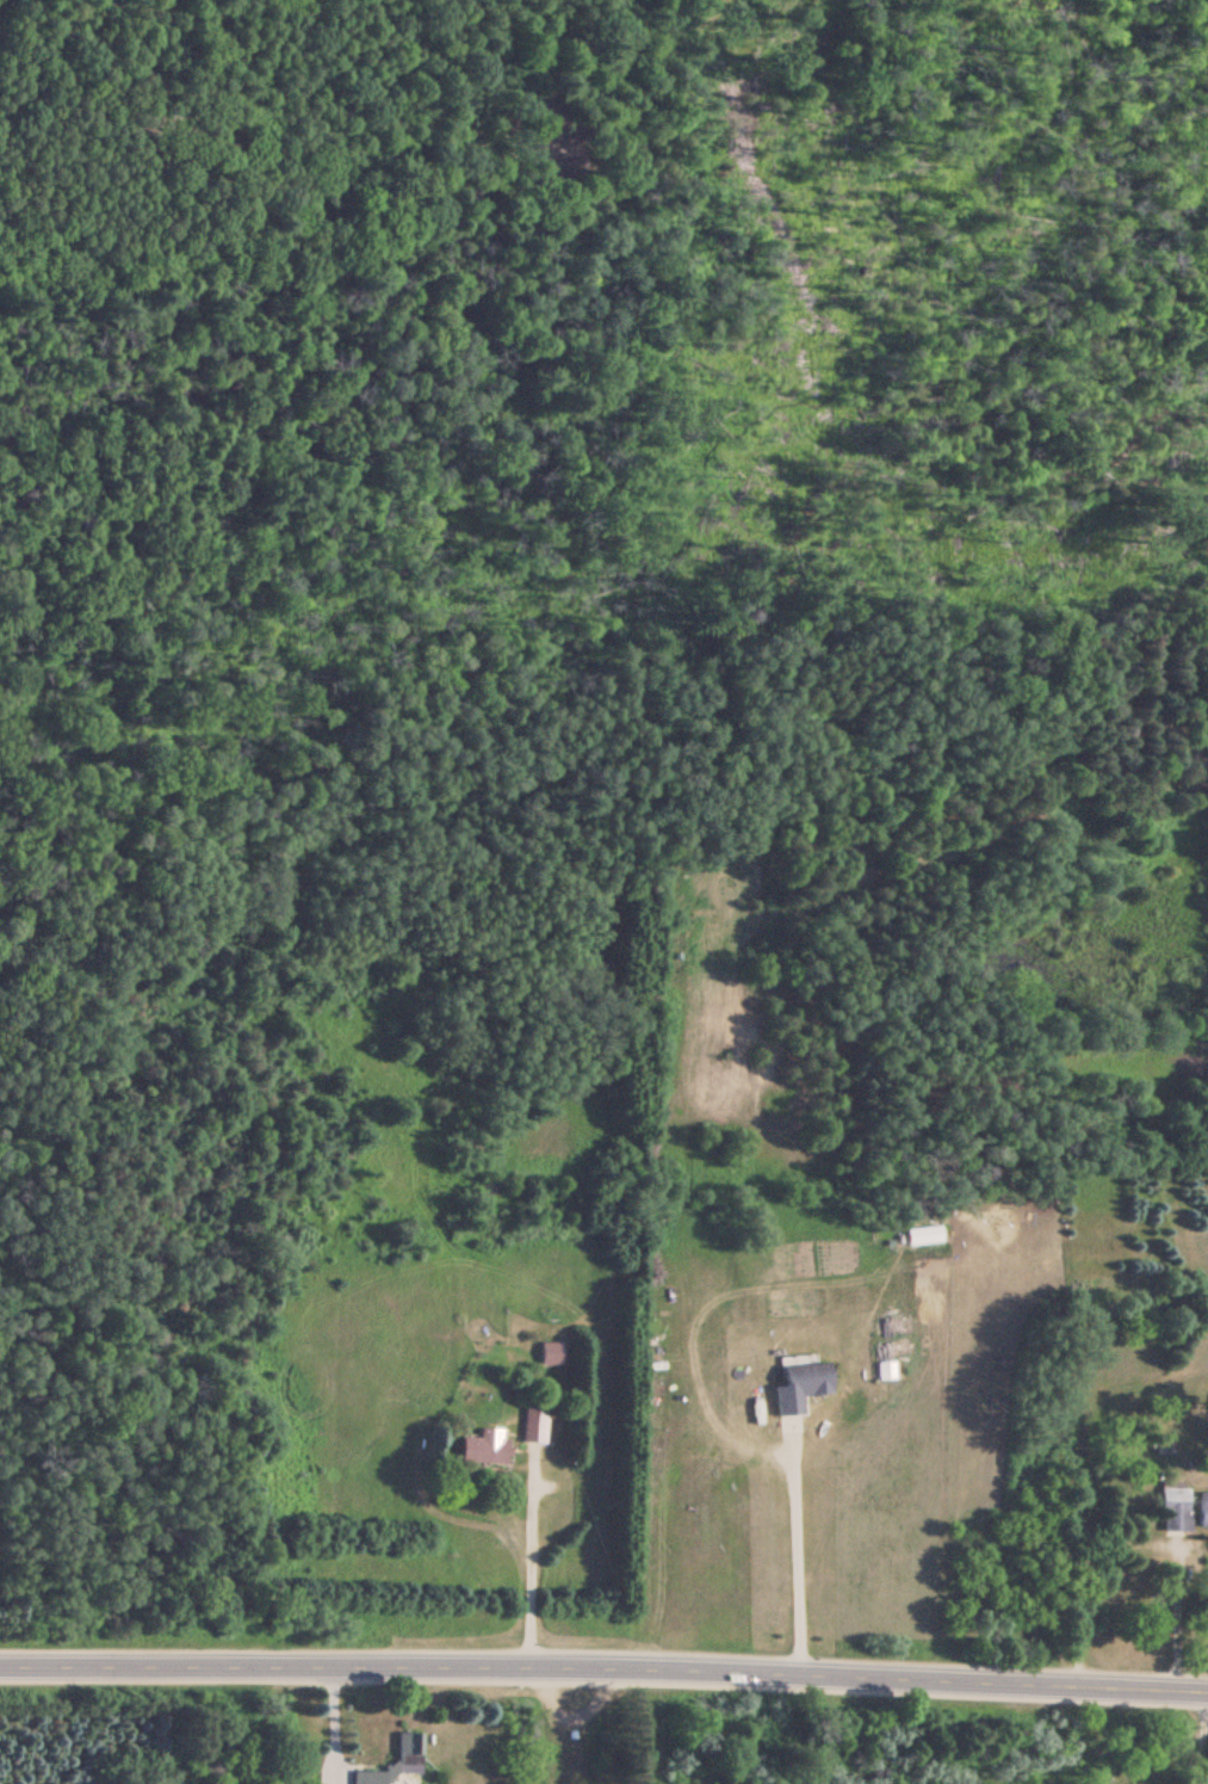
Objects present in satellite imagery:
road: (637, 12)
road: (318, 14)
building: (547, 1352)
building: (799, 1381)
building: (532, 1424)
building: (482, 1446)
building: (1170, 1511)
building: (1201, 1511)
road: (603, 1666)
building: (407, 1748)
building: (366, 1777)

